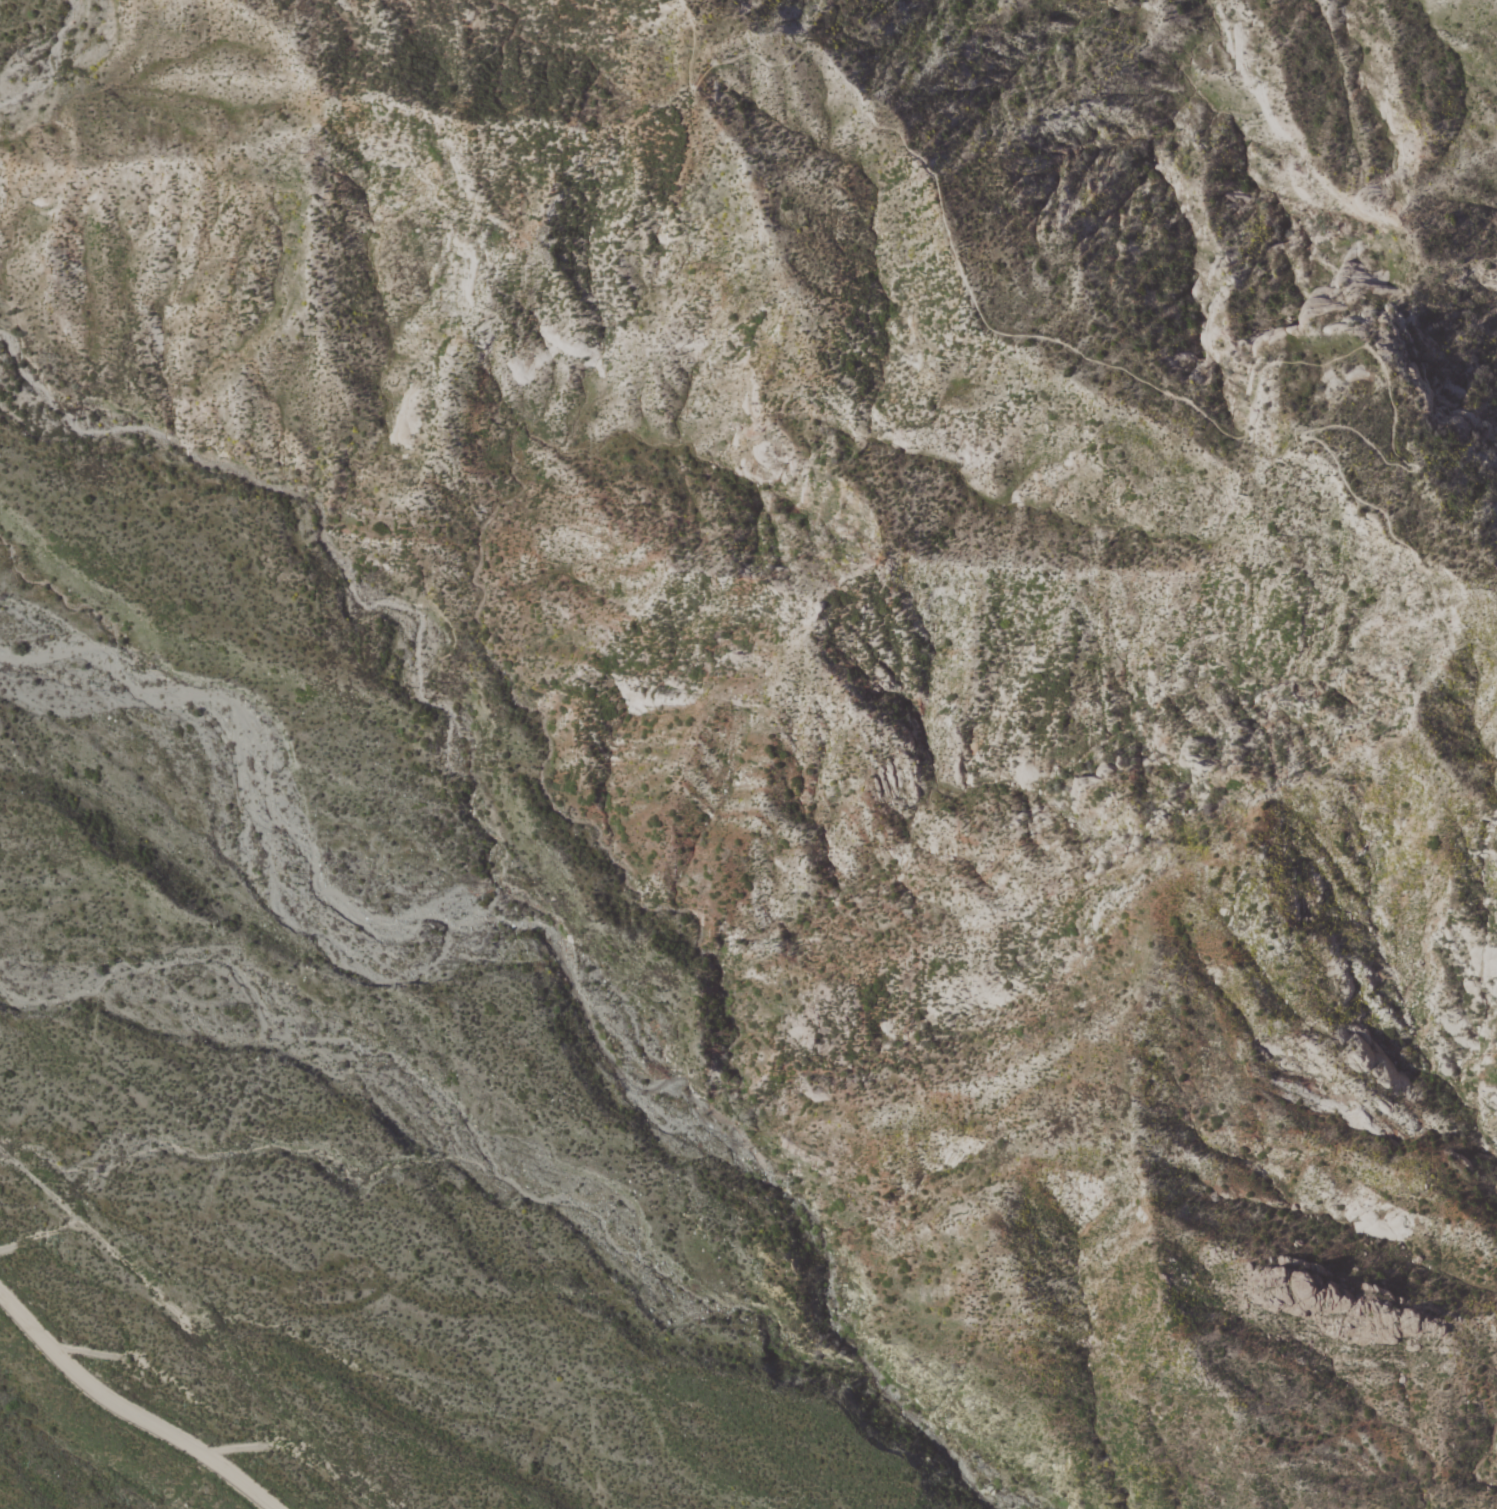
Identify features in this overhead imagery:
road: (1214, 422)
road: (126, 1412)

